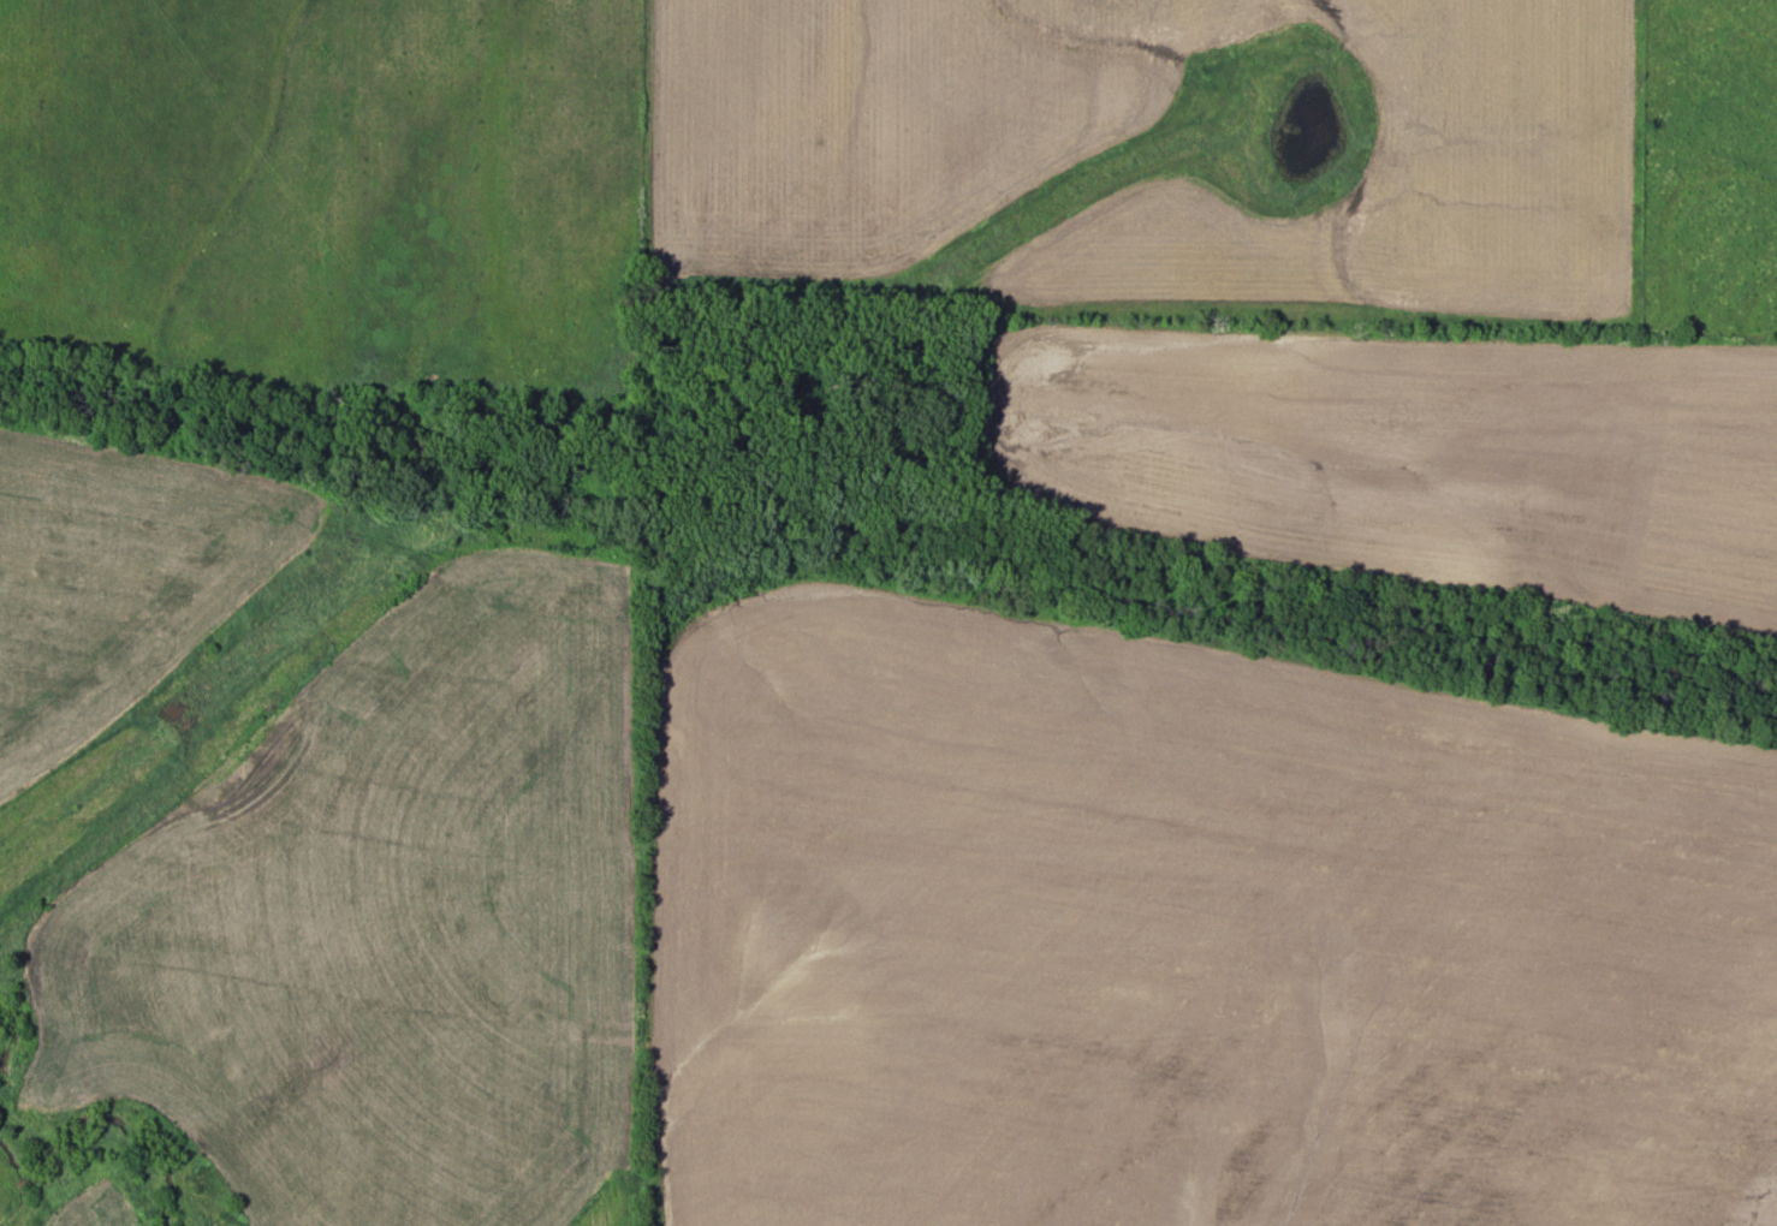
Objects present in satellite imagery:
crop: (1452, 149)
crop: (1409, 451)
crop: (1188, 930)

